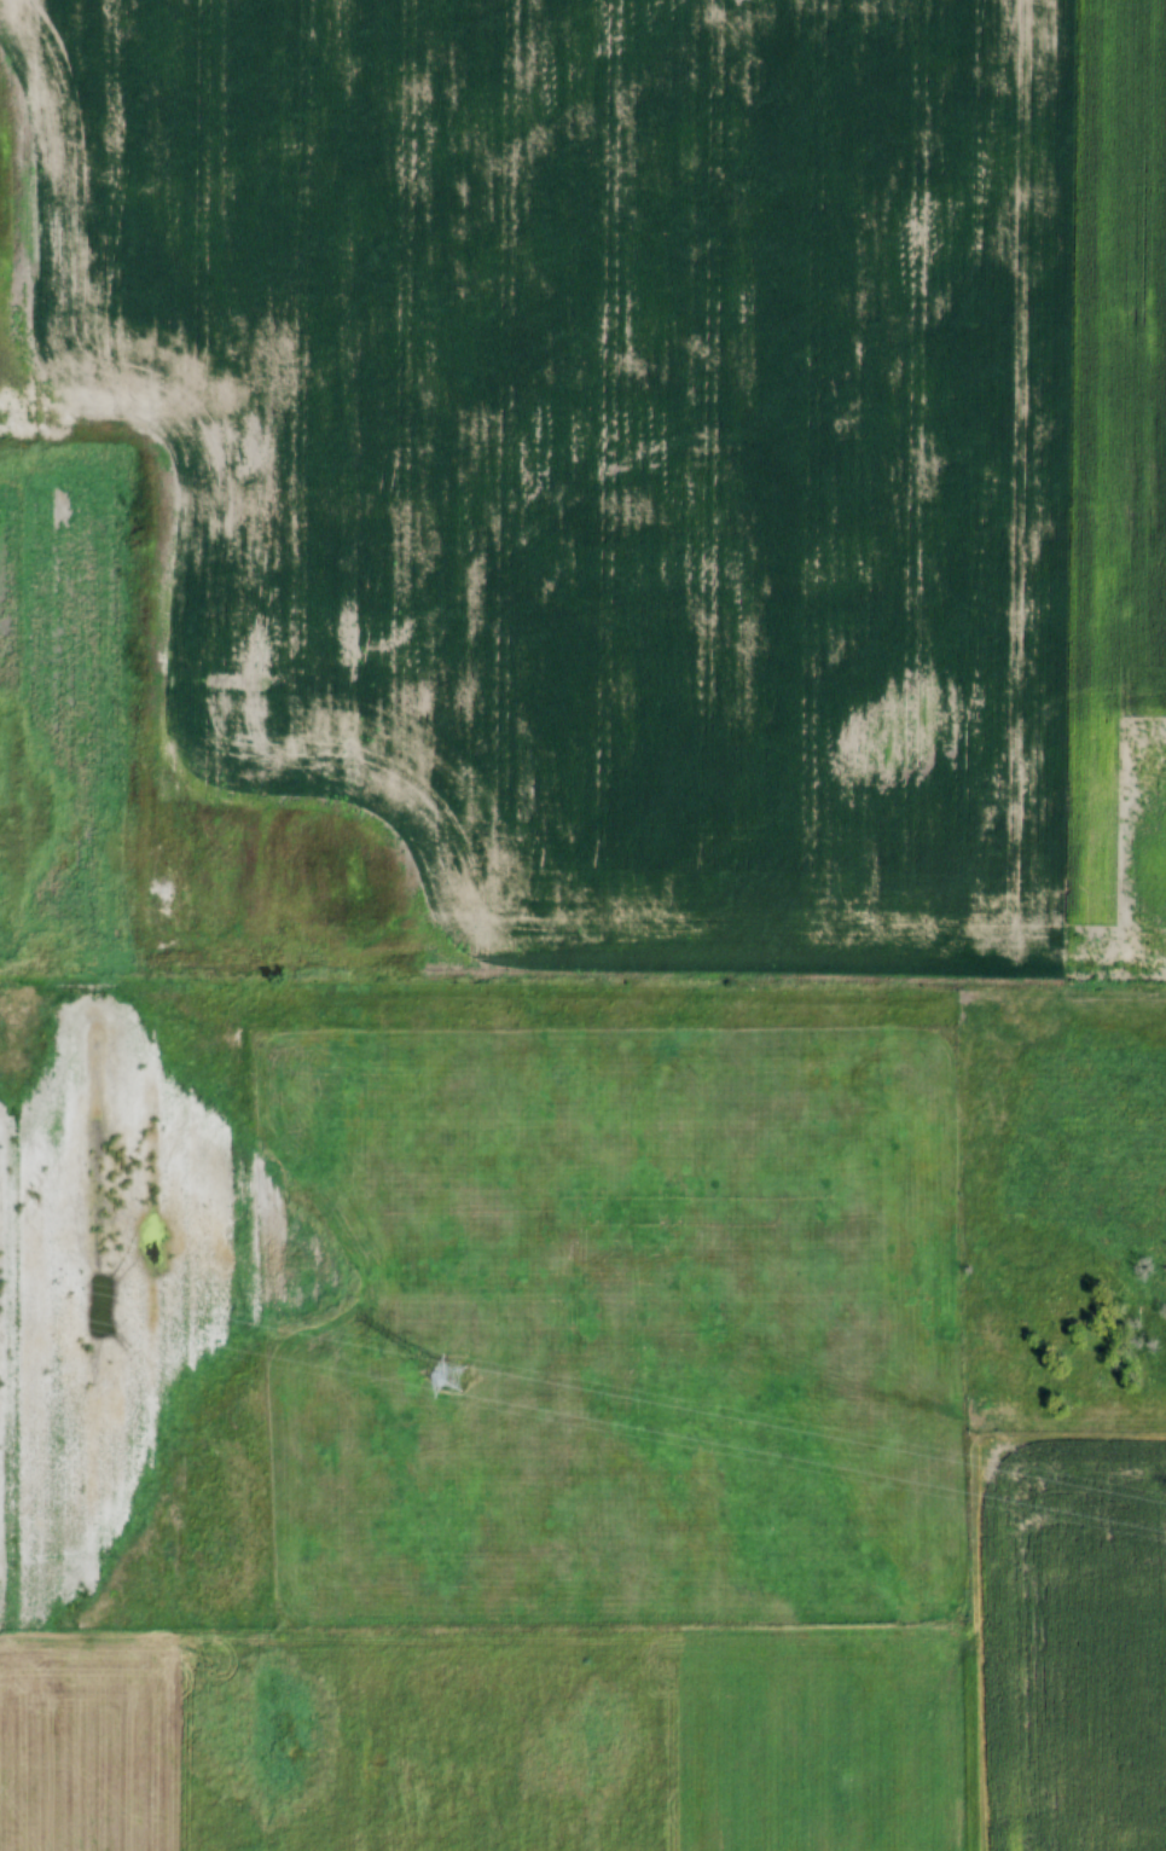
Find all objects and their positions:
road: (1103, 1193)
power tower: (442, 1353)

